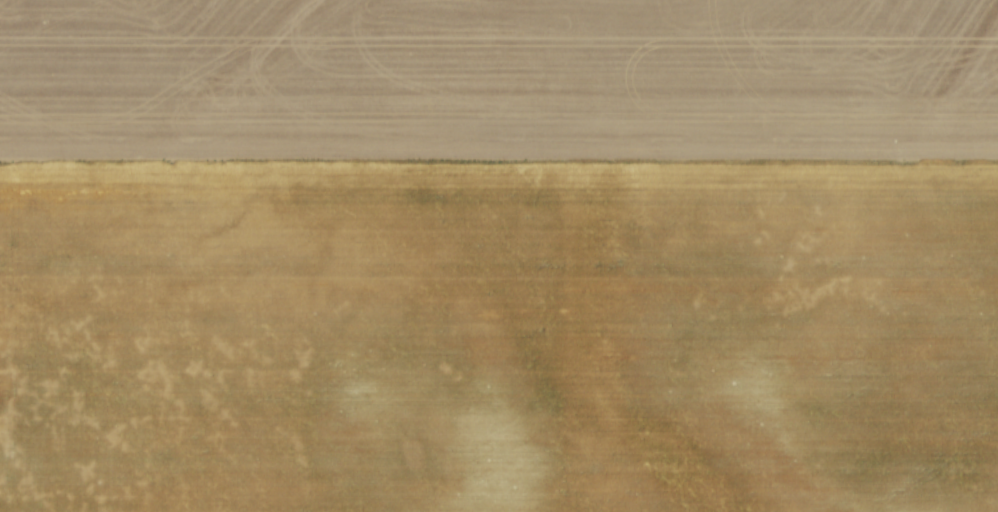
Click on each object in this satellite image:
crop: (499, 256)

